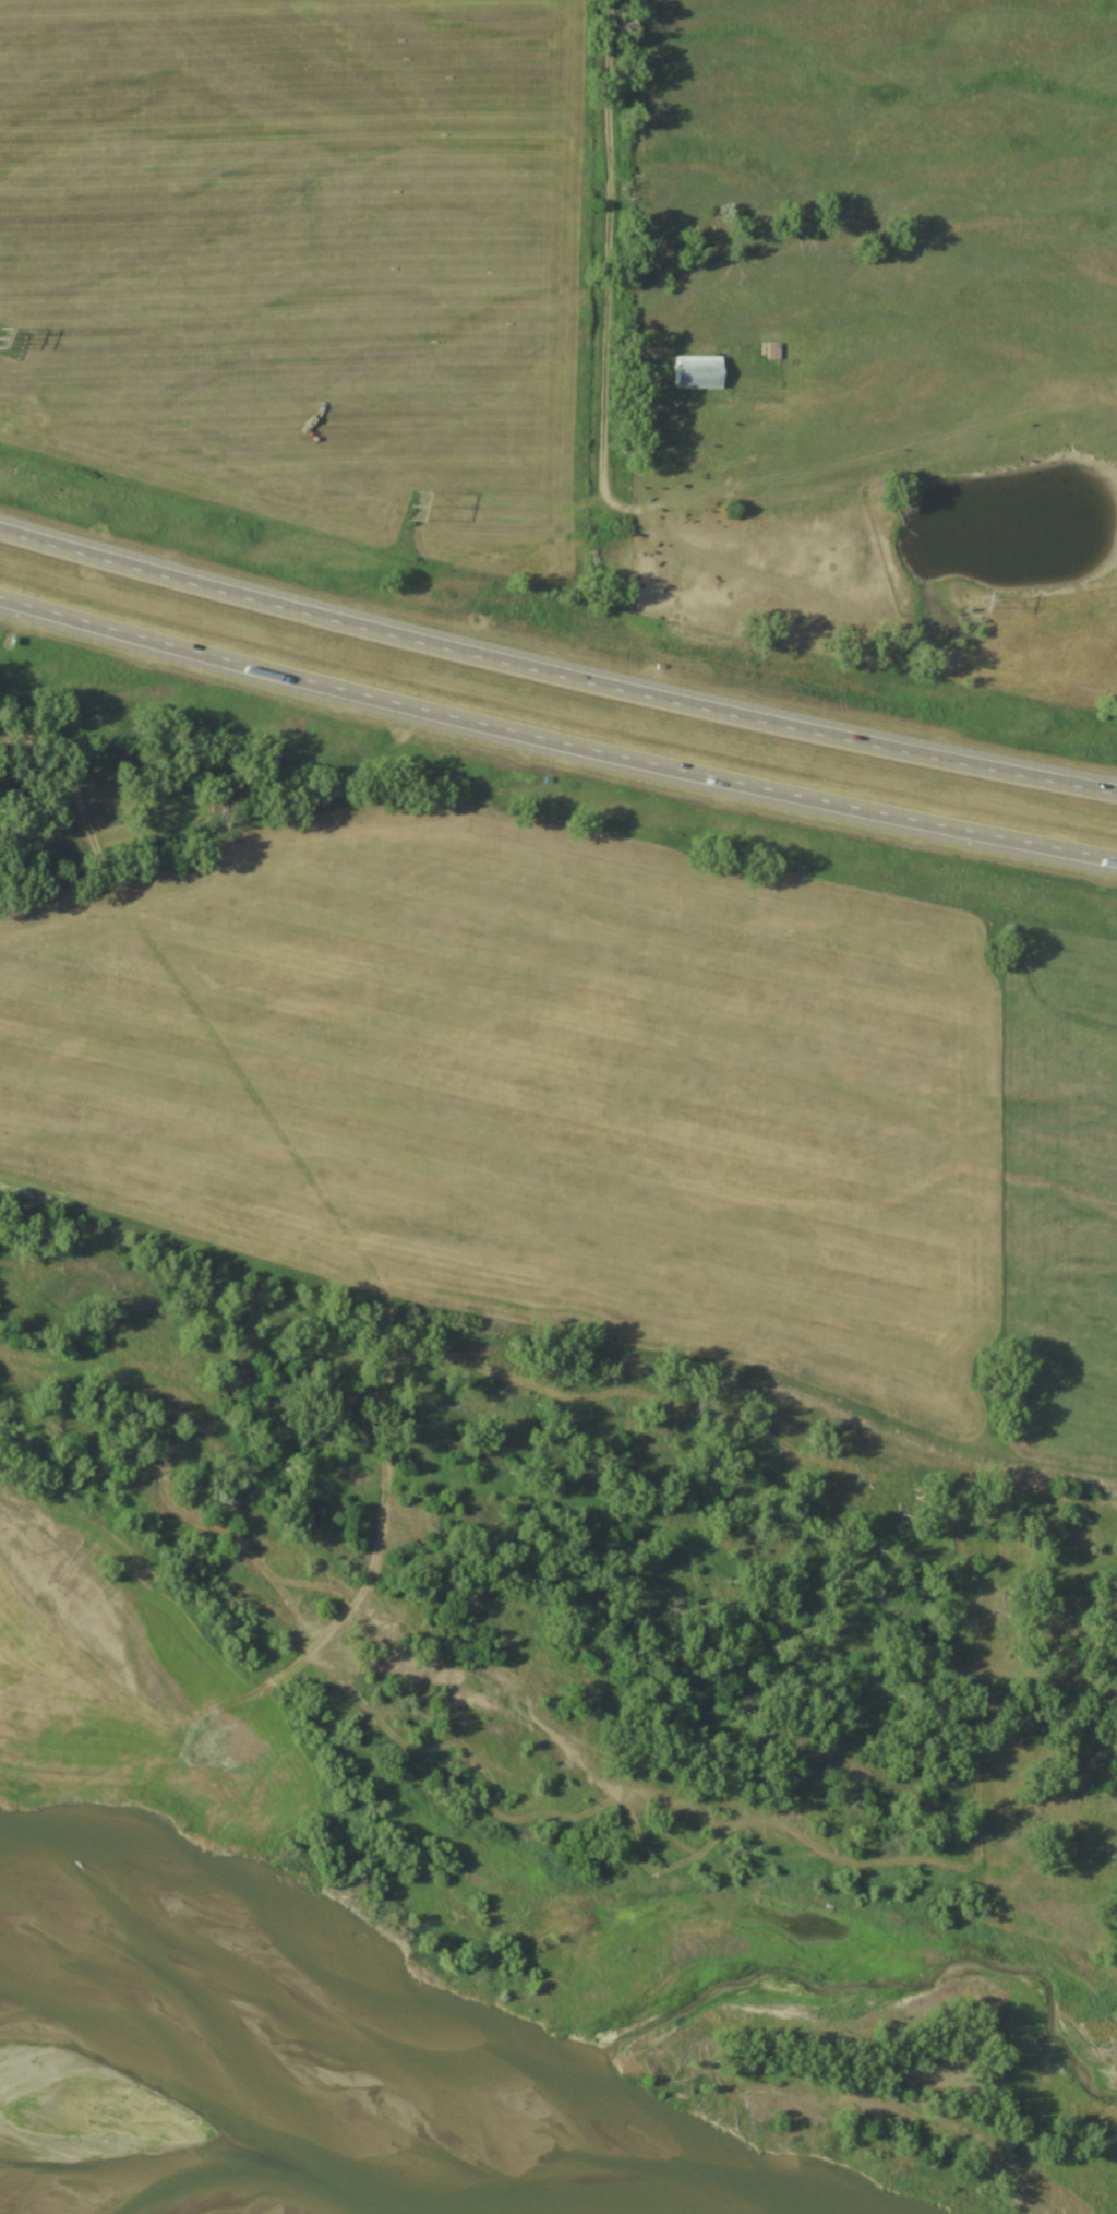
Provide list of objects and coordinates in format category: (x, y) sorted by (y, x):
power tower: (3, 342)
building: (689, 373)
power tower: (410, 505)
power tower: (972, 603)
road: (555, 675)
road: (555, 743)
river: (8, 2211)

